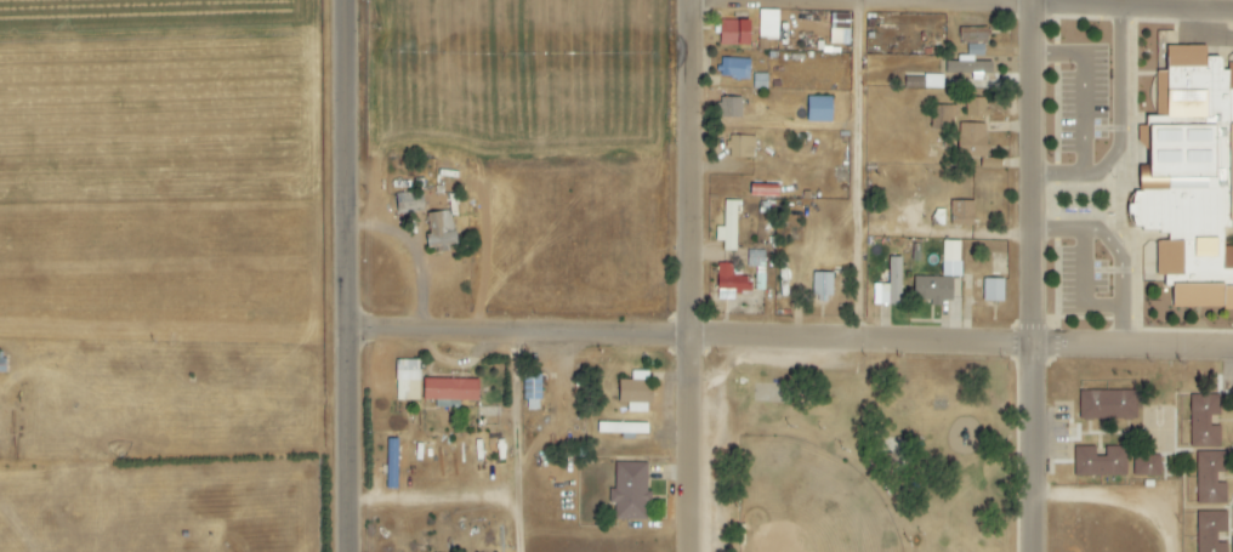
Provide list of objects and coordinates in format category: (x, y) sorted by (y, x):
road: (966, 4)
road: (1201, 5)
building: (768, 24)
building: (839, 29)
building: (733, 33)
building: (973, 35)
road: (1203, 36)
building: (972, 67)
building: (734, 69)
building: (933, 81)
building: (1193, 84)
road: (1084, 87)
building: (731, 107)
building: (818, 109)
building: (943, 116)
road: (1119, 127)
building: (976, 135)
building: (740, 147)
road: (868, 167)
building: (961, 214)
building: (1186, 214)
building: (728, 227)
building: (439, 231)
road: (1116, 251)
building: (743, 274)
road: (353, 275)
road: (697, 275)
road: (1030, 275)
building: (943, 278)
building: (890, 285)
building: (822, 288)
building: (993, 290)
road: (794, 338)
building: (407, 380)
building: (449, 389)
building: (532, 392)
building: (1108, 404)
building: (1204, 421)
building: (621, 428)
road: (524, 445)
building: (1100, 462)
building: (1147, 465)
building: (1210, 478)
building: (630, 491)
road: (1118, 502)
building: (1211, 531)
building: (1232, 545)

